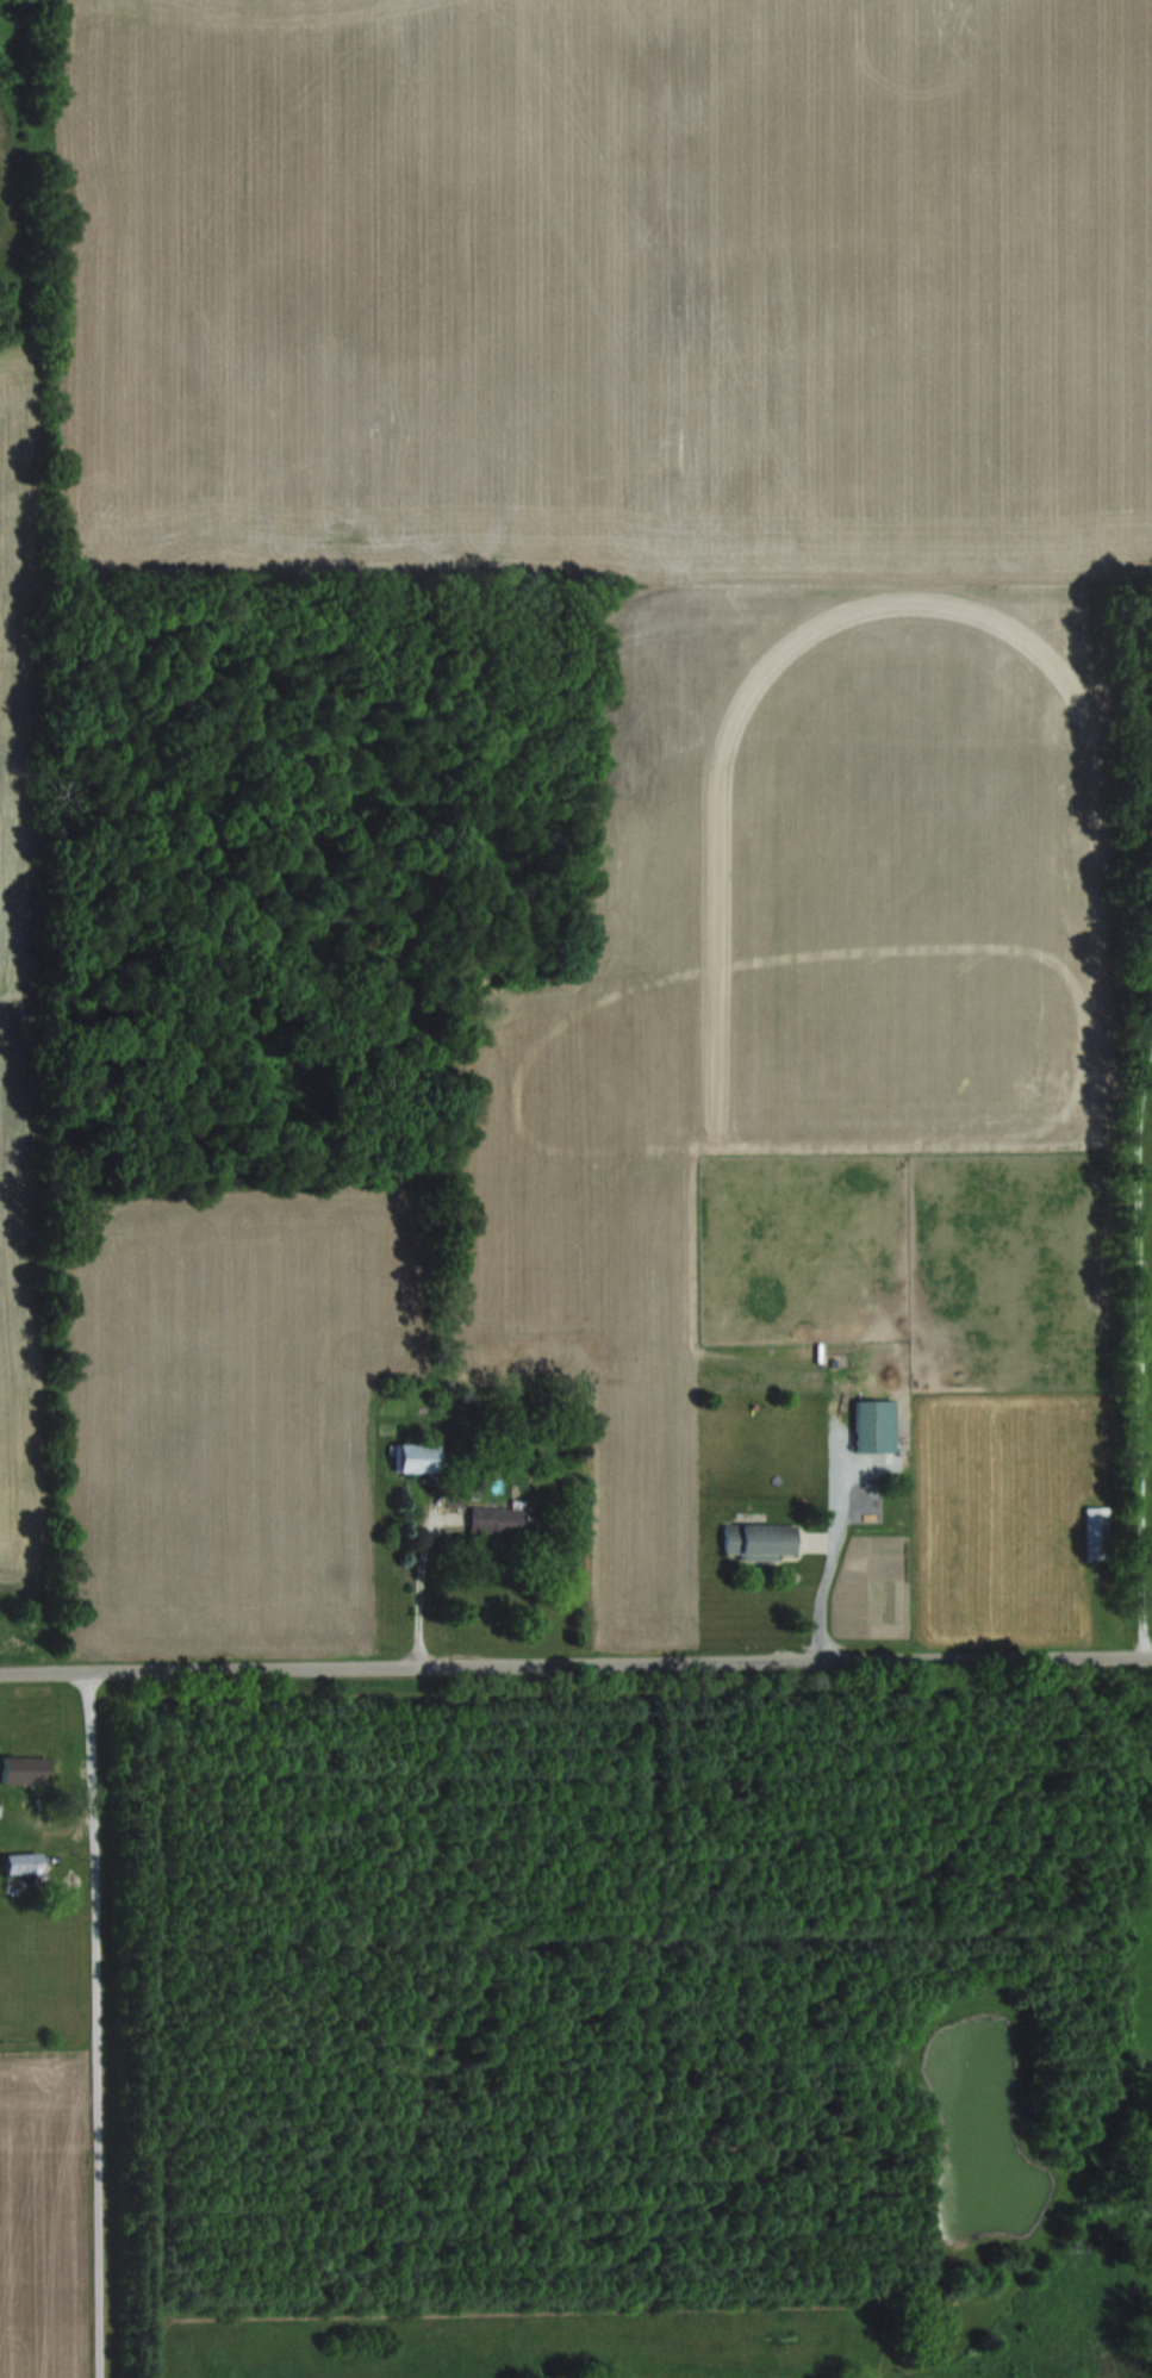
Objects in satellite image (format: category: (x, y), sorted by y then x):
building: (872, 1425)
building: (410, 1456)
building: (499, 1519)
building: (758, 1538)
road: (413, 1586)
road: (575, 1663)
building: (14, 1768)
building: (19, 1862)
road: (75, 2024)
building: (939, 2320)

